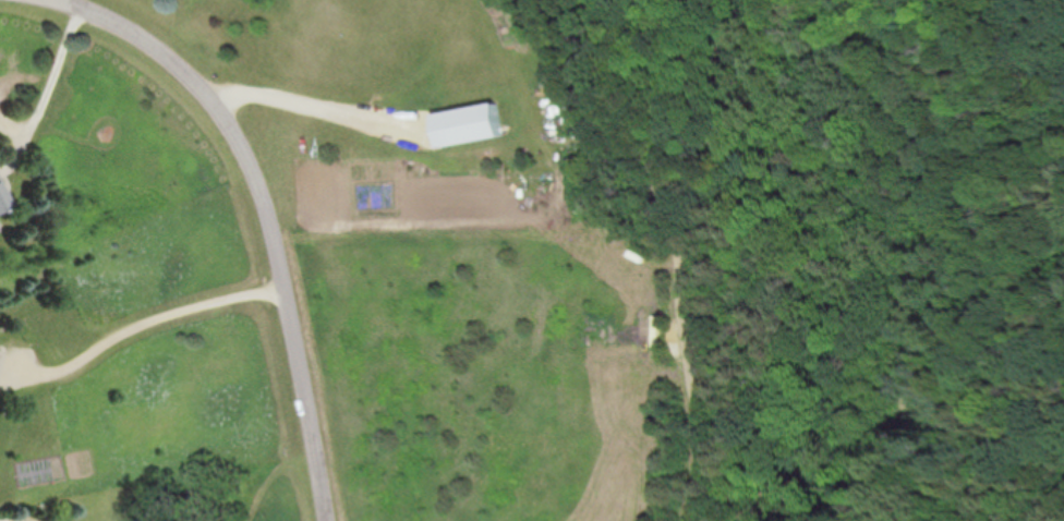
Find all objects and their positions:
road: (51, 71)
road: (297, 104)
road: (265, 214)
road: (166, 316)
road: (697, 393)

